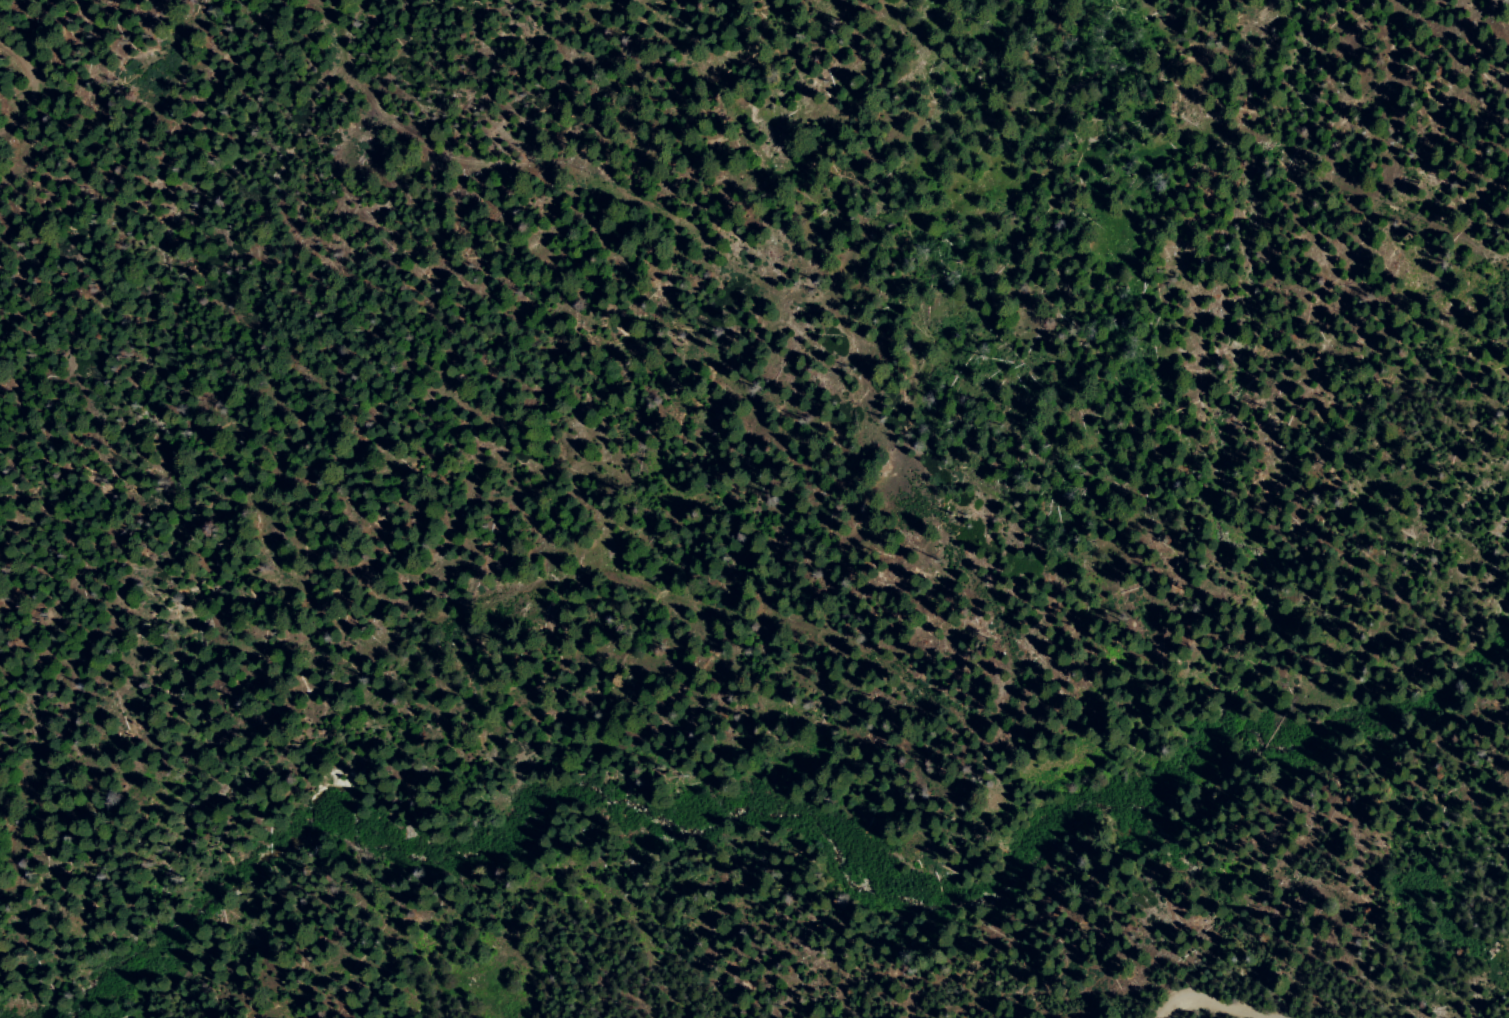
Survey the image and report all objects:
road: (35, 84)
road: (1215, 1002)

